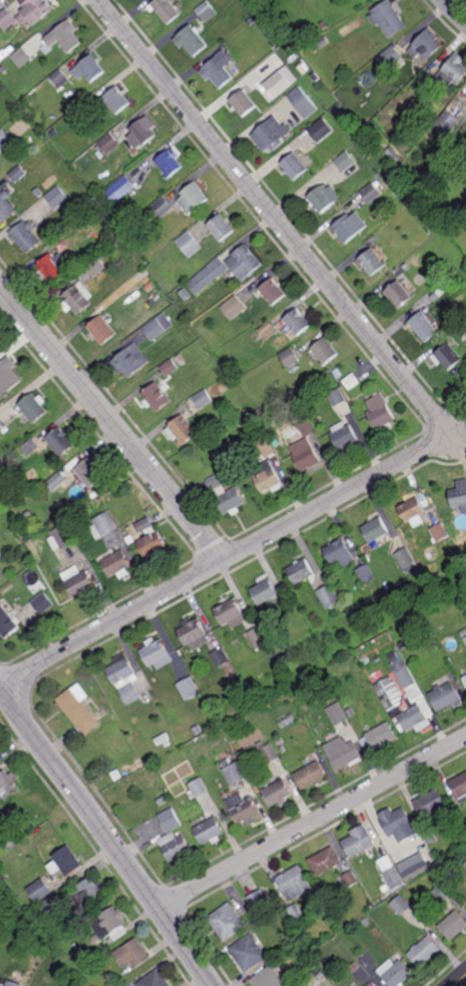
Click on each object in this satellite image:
building: (365, 0)
building: (367, 0)
building: (166, 9)
building: (34, 10)
building: (207, 10)
road: (454, 11)
building: (6, 18)
building: (387, 18)
building: (251, 20)
building: (324, 24)
building: (63, 37)
building: (192, 39)
building: (323, 41)
building: (425, 46)
building: (21, 56)
building: (390, 56)
building: (89, 68)
building: (3, 69)
building: (453, 70)
building: (218, 71)
building: (315, 77)
building: (60, 78)
building: (278, 84)
building: (116, 99)
building: (303, 101)
building: (336, 101)
building: (243, 102)
building: (84, 107)
building: (329, 107)
building: (36, 113)
building: (446, 122)
building: (340, 125)
building: (321, 130)
building: (142, 132)
building: (272, 133)
building: (4, 141)
building: (109, 143)
building: (393, 155)
building: (345, 161)
building: (169, 162)
building: (294, 165)
building: (16, 173)
building: (121, 189)
building: (38, 193)
building: (370, 193)
building: (422, 193)
building: (57, 197)
building: (410, 197)
building: (192, 198)
building: (322, 199)
building: (5, 206)
building: (160, 208)
road: (271, 213)
building: (220, 227)
building: (349, 227)
building: (25, 235)
building: (122, 240)
building: (64, 241)
building: (189, 244)
building: (396, 259)
building: (373, 261)
building: (244, 262)
building: (51, 267)
building: (96, 267)
building: (407, 267)
building: (207, 276)
building: (273, 291)
building: (185, 294)
building: (398, 295)
building: (435, 297)
building: (78, 298)
building: (233, 308)
building: (205, 316)
building: (248, 321)
building: (297, 322)
building: (423, 326)
building: (157, 327)
building: (101, 330)
building: (267, 330)
building: (460, 331)
building: (325, 351)
building: (447, 357)
building: (290, 358)
building: (180, 360)
building: (130, 361)
building: (169, 368)
building: (8, 374)
building: (351, 381)
building: (156, 397)
building: (337, 397)
building: (202, 400)
building: (32, 409)
building: (379, 412)
road: (112, 421)
building: (1, 424)
building: (306, 428)
building: (181, 430)
building: (343, 436)
building: (61, 441)
building: (210, 443)
building: (30, 447)
building: (265, 447)
building: (305, 455)
building: (90, 473)
building: (267, 478)
building: (55, 482)
building: (226, 495)
building: (459, 499)
building: (59, 507)
building: (413, 513)
building: (28, 515)
building: (103, 526)
building: (375, 532)
building: (440, 533)
building: (62, 538)
building: (150, 540)
building: (339, 554)
building: (1, 555)
road: (223, 559)
building: (405, 561)
building: (117, 566)
building: (301, 572)
building: (365, 575)
building: (78, 583)
building: (263, 591)
building: (329, 597)
building: (42, 604)
building: (230, 613)
building: (8, 624)
building: (427, 634)
building: (192, 635)
building: (257, 638)
building: (464, 639)
building: (290, 642)
building: (155, 654)
building: (220, 658)
building: (365, 660)
building: (122, 671)
building: (368, 672)
building: (464, 678)
building: (188, 688)
building: (130, 692)
building: (389, 692)
building: (444, 696)
building: (77, 709)
building: (348, 710)
building: (335, 713)
building: (197, 729)
building: (378, 736)
building: (162, 739)
building: (195, 746)
building: (281, 749)
building: (267, 752)
building: (341, 753)
building: (233, 772)
building: (117, 774)
building: (310, 775)
building: (9, 784)
building: (459, 785)
building: (197, 788)
building: (276, 793)
building: (162, 800)
building: (430, 802)
building: (242, 808)
road: (312, 821)
building: (397, 823)
building: (209, 831)
road: (107, 835)
building: (429, 835)
building: (173, 839)
building: (359, 843)
building: (65, 860)
building: (325, 860)
building: (401, 861)
building: (465, 864)
building: (413, 866)
building: (390, 872)
building: (350, 879)
building: (375, 879)
building: (294, 882)
building: (385, 888)
building: (39, 890)
building: (89, 892)
building: (442, 892)
building: (260, 902)
building: (465, 902)
building: (400, 904)
building: (51, 905)
building: (295, 912)
building: (227, 921)
building: (365, 922)
building: (109, 924)
building: (453, 925)
building: (334, 941)
building: (76, 945)
building: (424, 950)
building: (247, 952)
building: (132, 953)
building: (69, 958)
building: (354, 967)
building: (395, 972)
building: (320, 974)
building: (268, 977)
building: (154, 979)
road: (459, 980)
building: (2, 984)
building: (12, 984)
building: (75, 985)
building: (369, 985)

